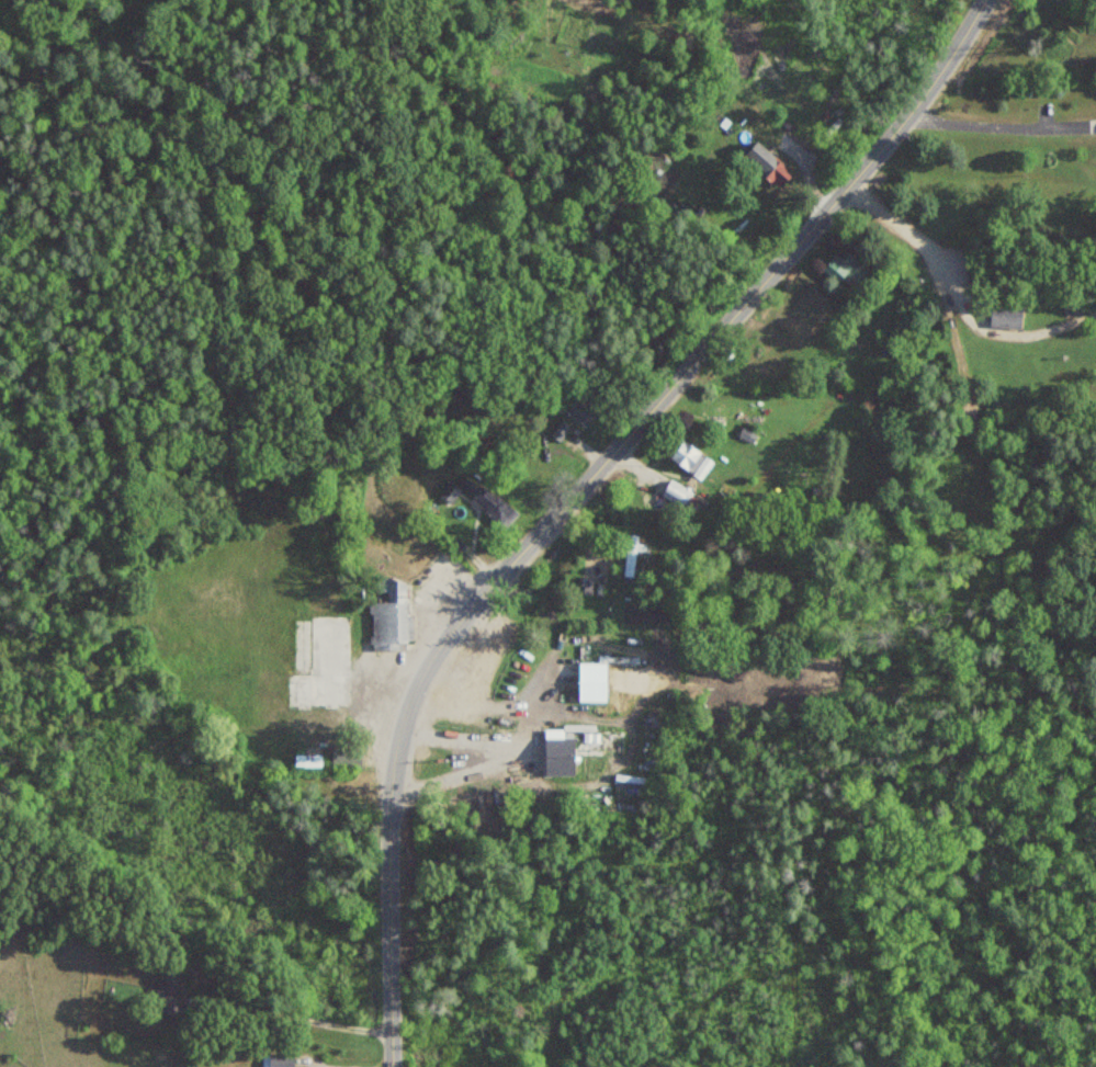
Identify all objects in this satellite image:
road: (1004, 127)
building: (769, 163)
road: (807, 173)
building: (844, 269)
road: (952, 297)
building: (1008, 317)
building: (581, 410)
building: (560, 430)
road: (591, 447)
building: (688, 457)
road: (639, 465)
building: (450, 491)
road: (580, 491)
building: (676, 492)
building: (493, 506)
road: (578, 537)
road: (468, 549)
building: (629, 557)
building: (391, 616)
parking lot: (427, 628)
building: (305, 667)
building: (597, 683)
road: (370, 725)
building: (586, 745)
building: (346, 757)
road: (509, 758)
building: (174, 989)
road: (307, 1019)
building: (284, 1060)

